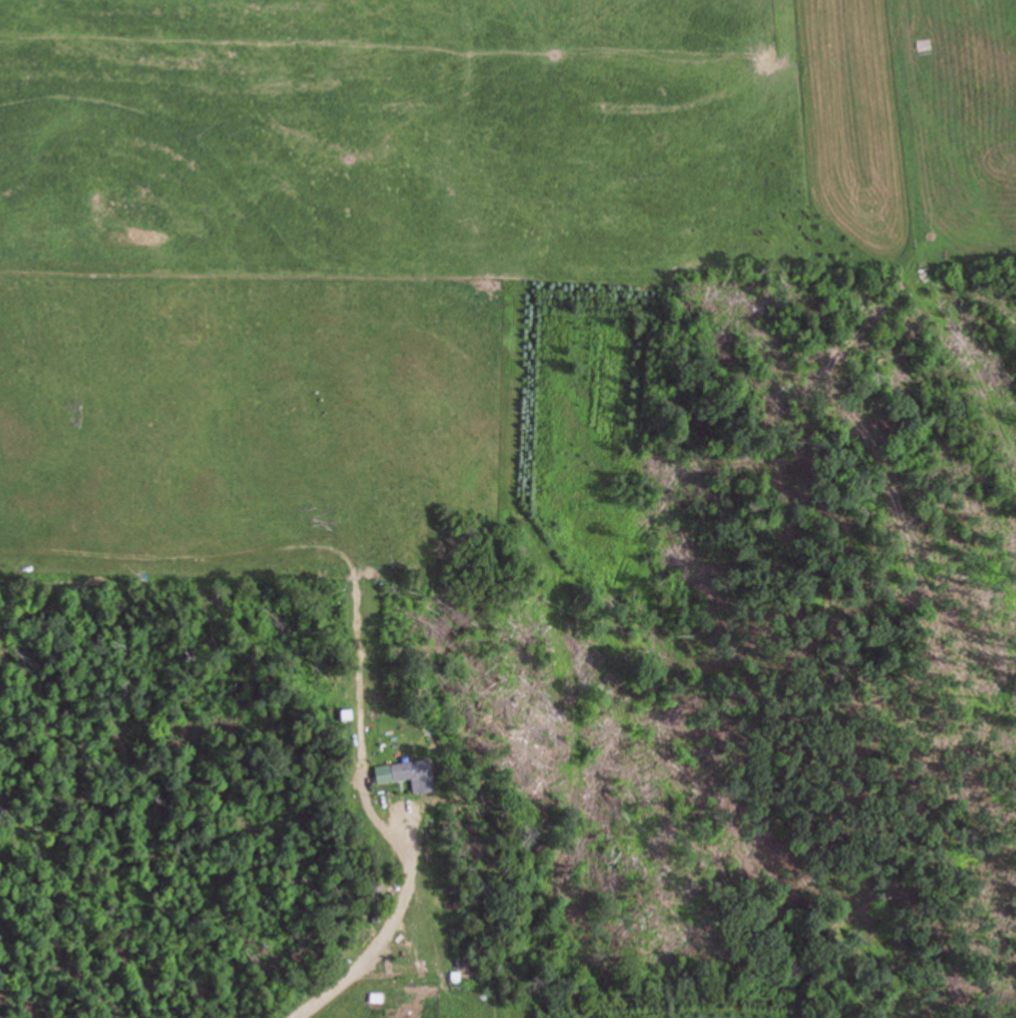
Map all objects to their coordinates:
building: (410, 777)
building: (457, 996)

